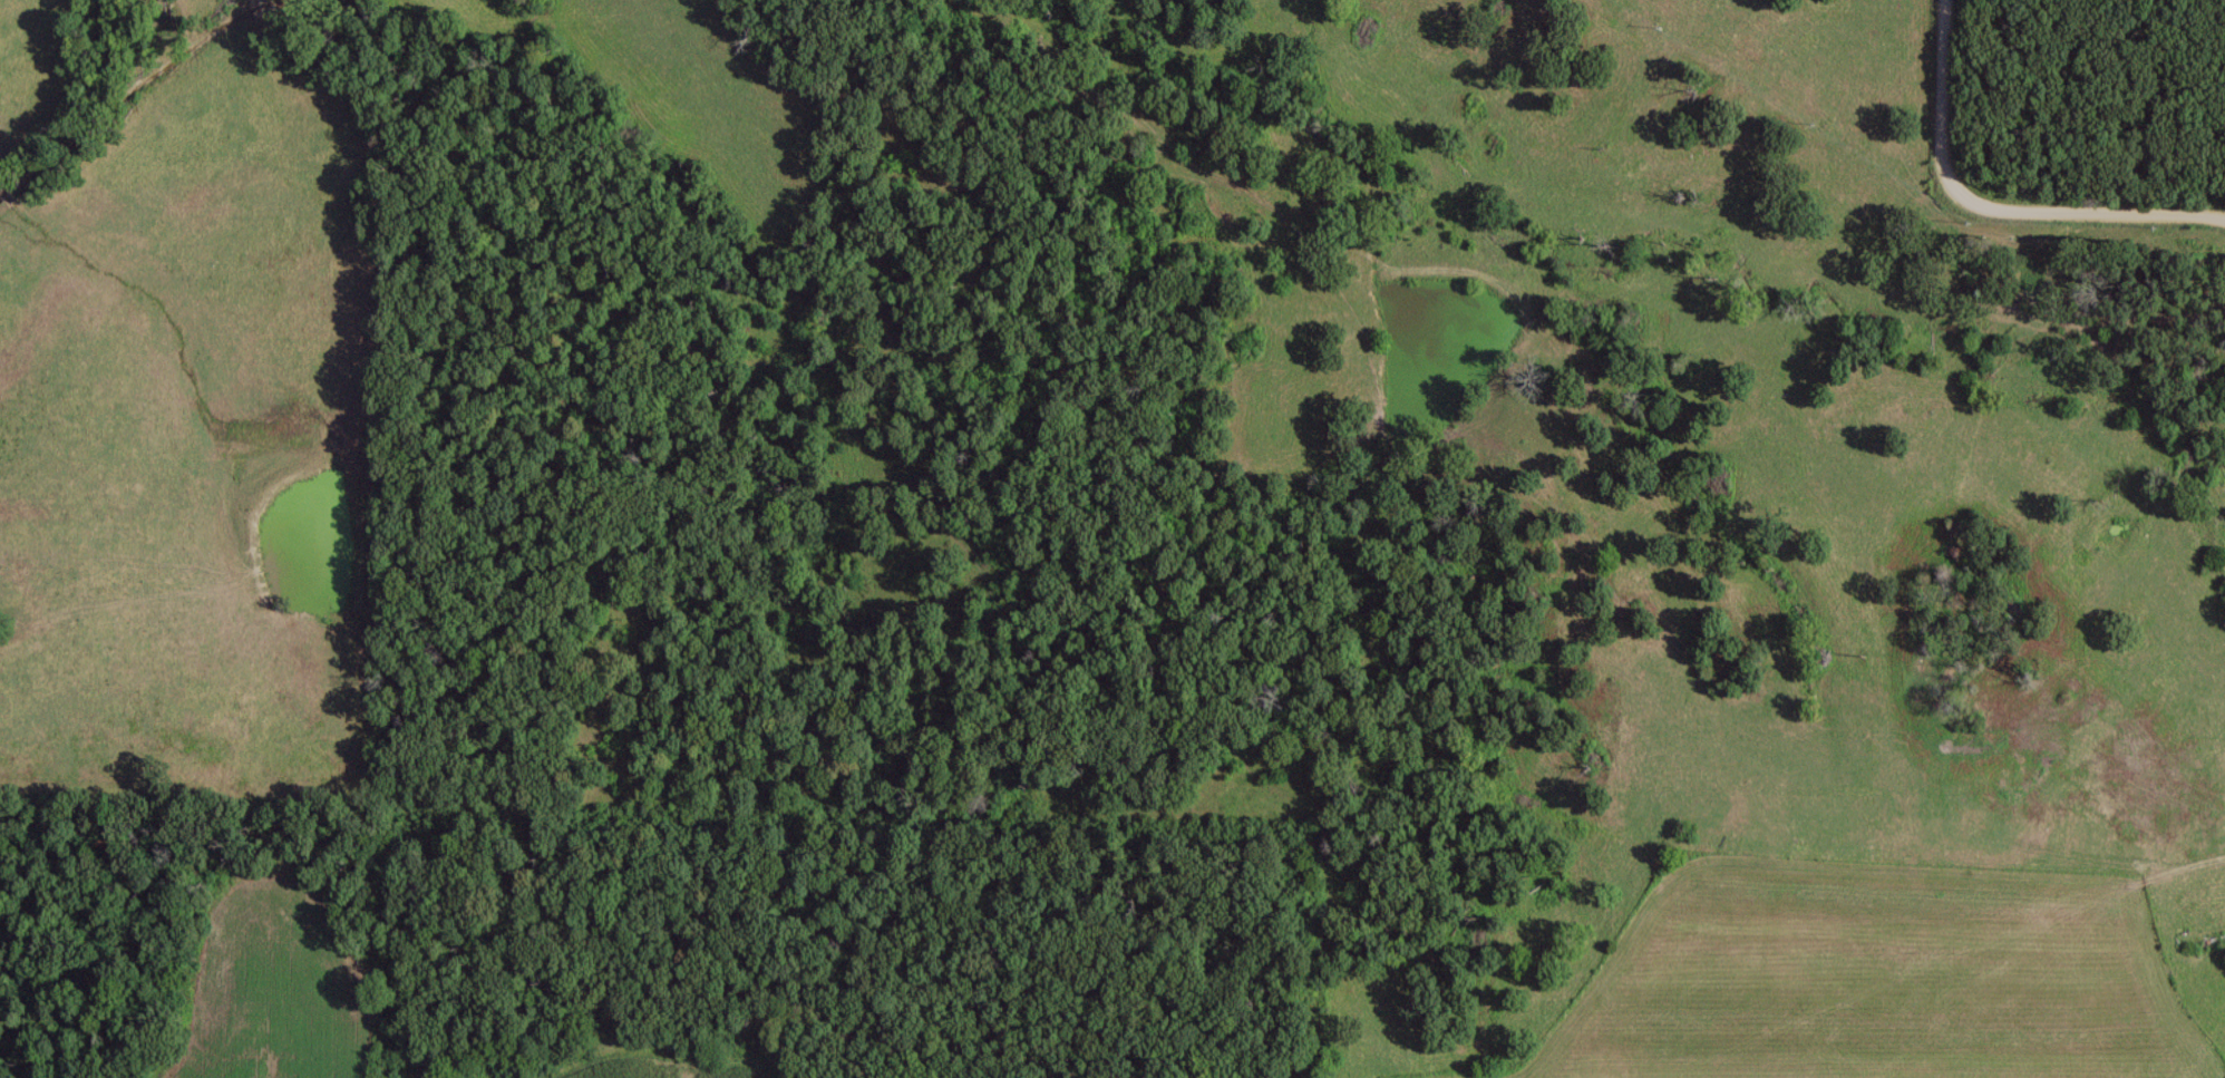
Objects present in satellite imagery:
road: (1991, 204)

